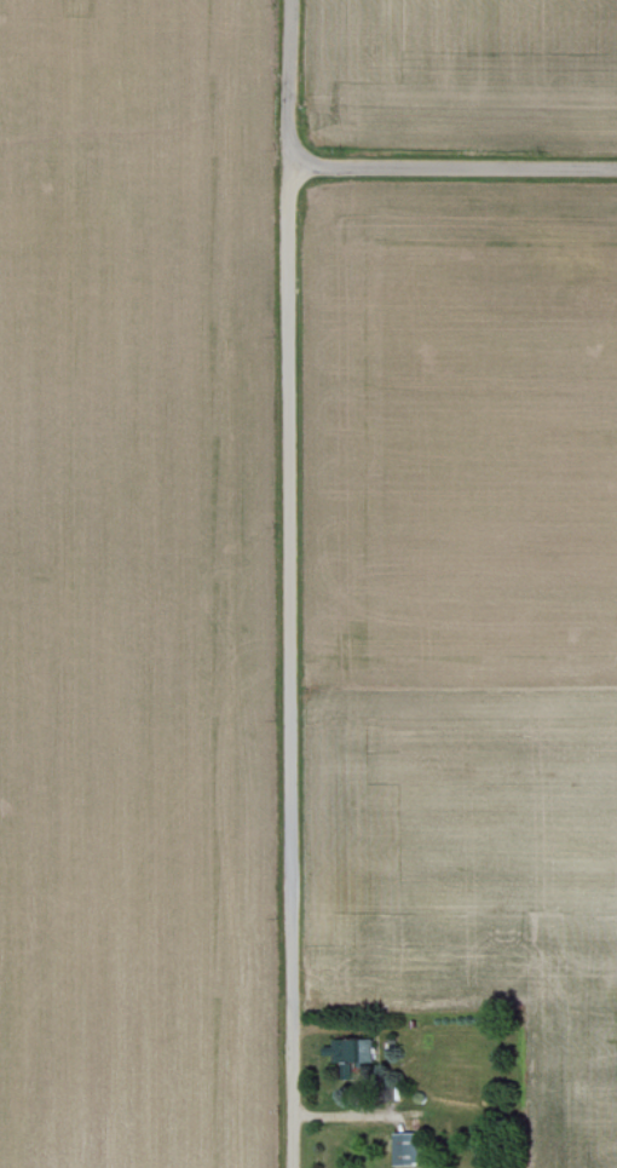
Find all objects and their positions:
road: (455, 167)
road: (293, 583)

